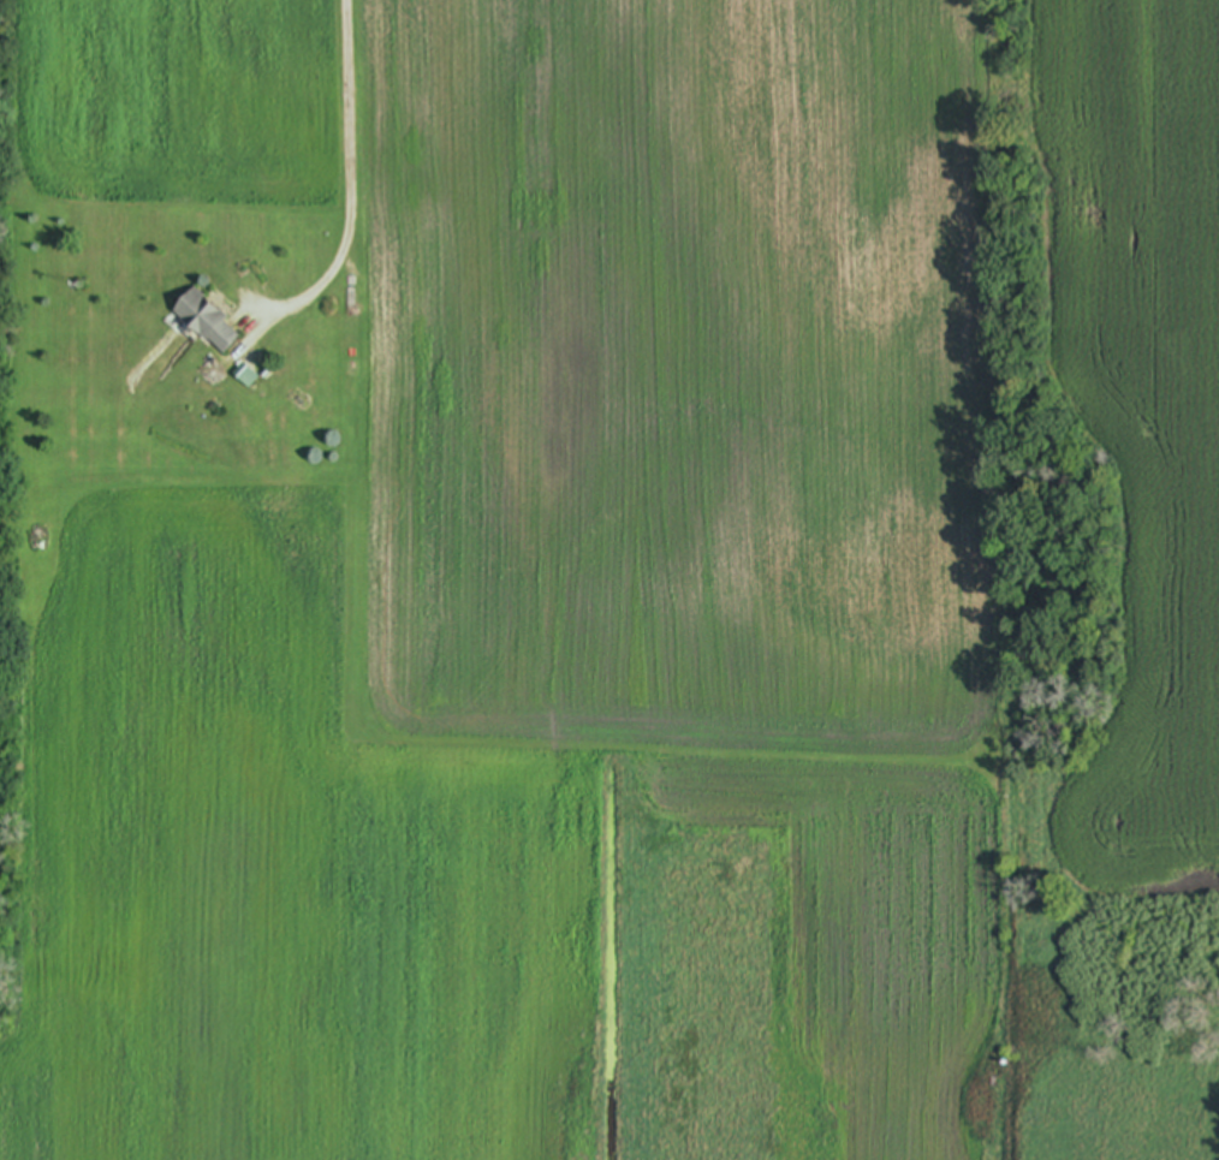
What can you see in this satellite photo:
road: (349, 184)
building: (207, 322)

